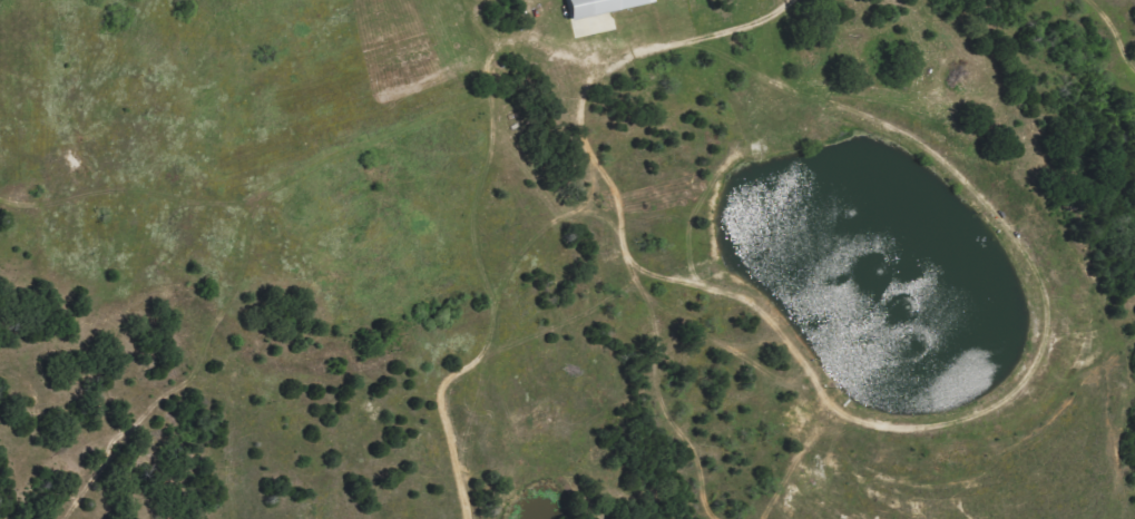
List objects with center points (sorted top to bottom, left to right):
building: (605, 7)
road: (721, 30)

